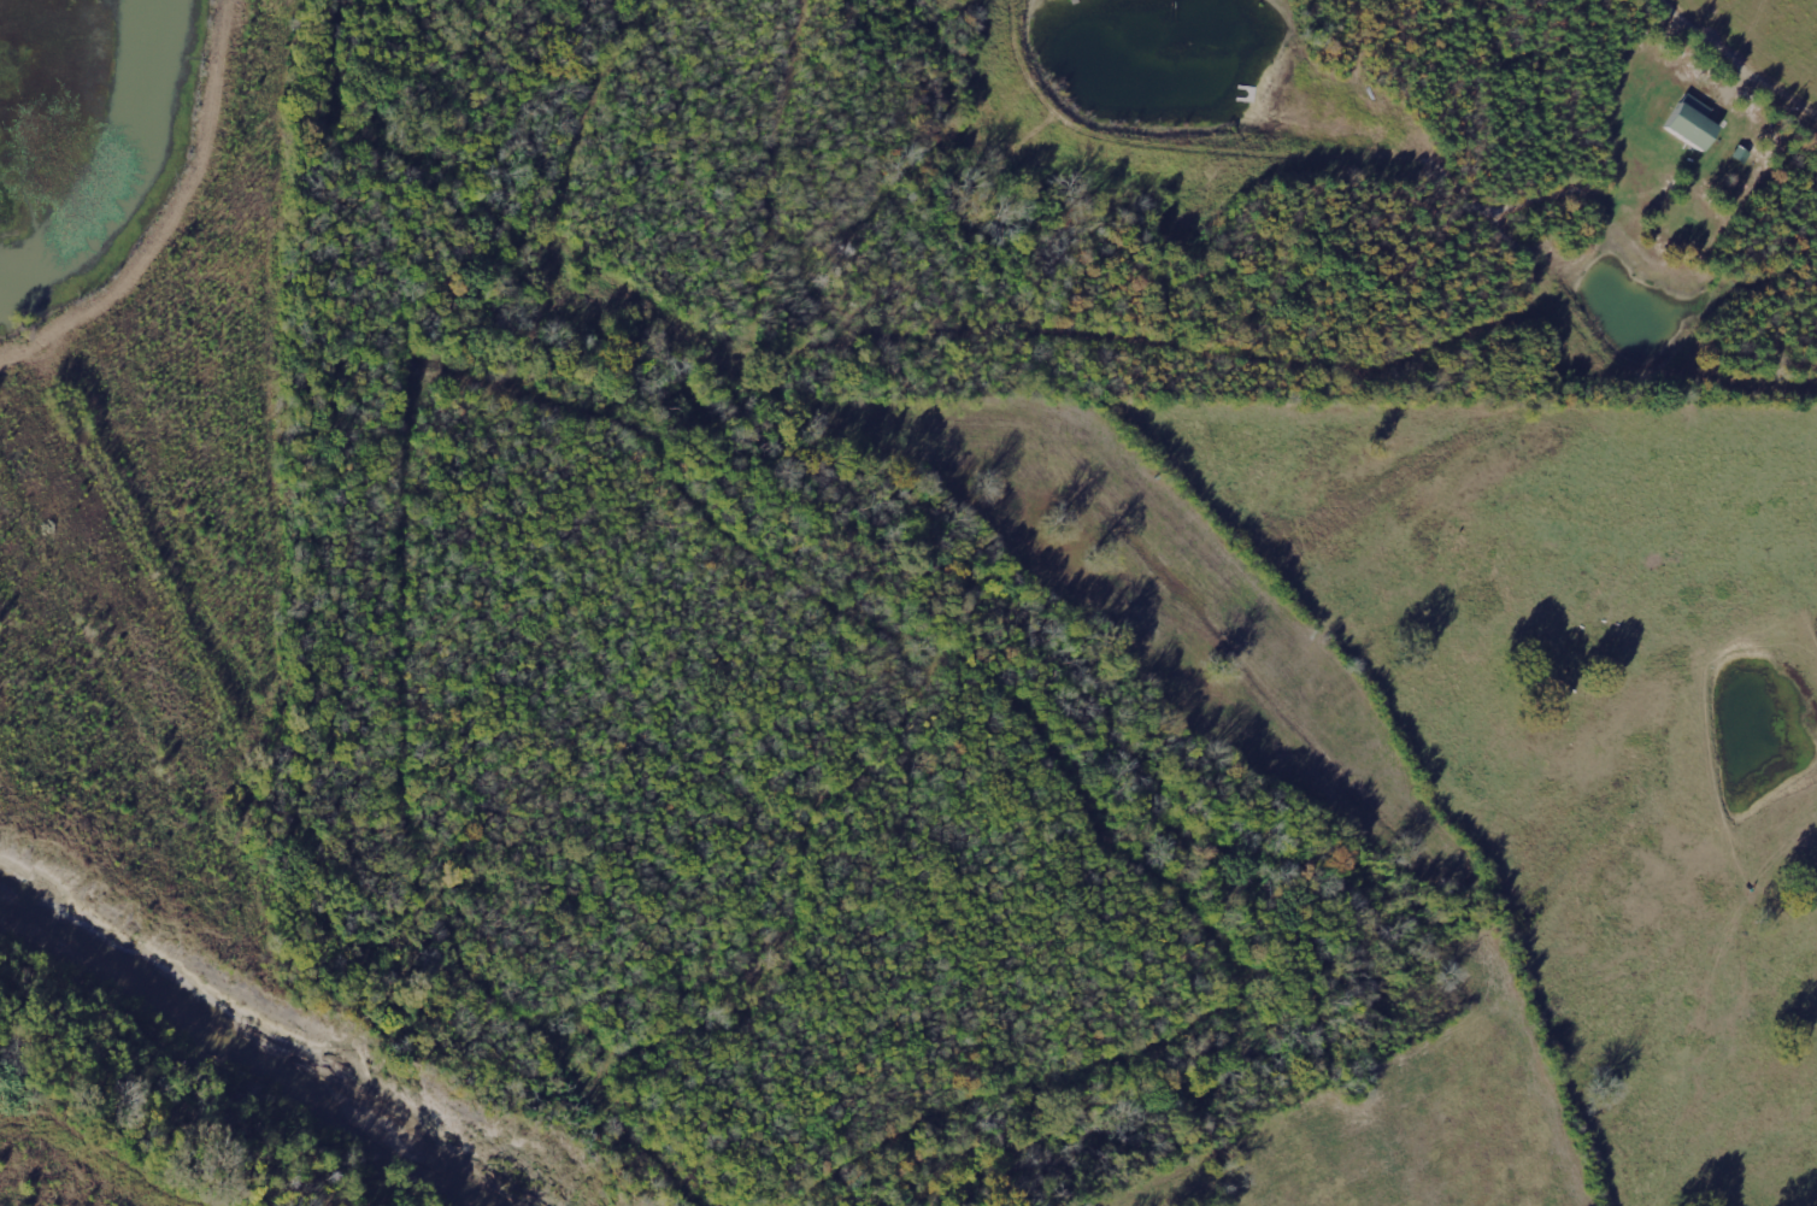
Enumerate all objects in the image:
building: (1686, 122)
road: (1647, 1019)
river: (247, 1055)

